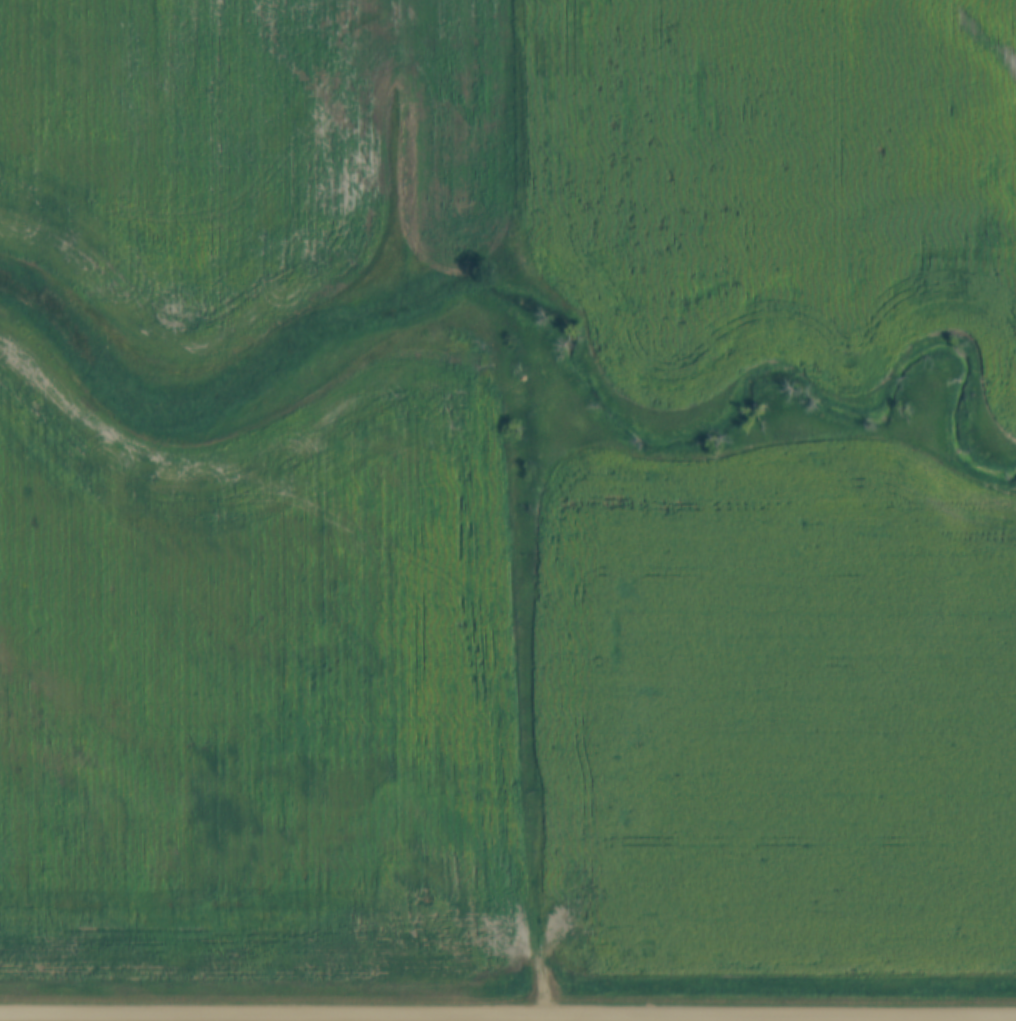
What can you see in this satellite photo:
road: (508, 1011)
road: (542, 1016)

